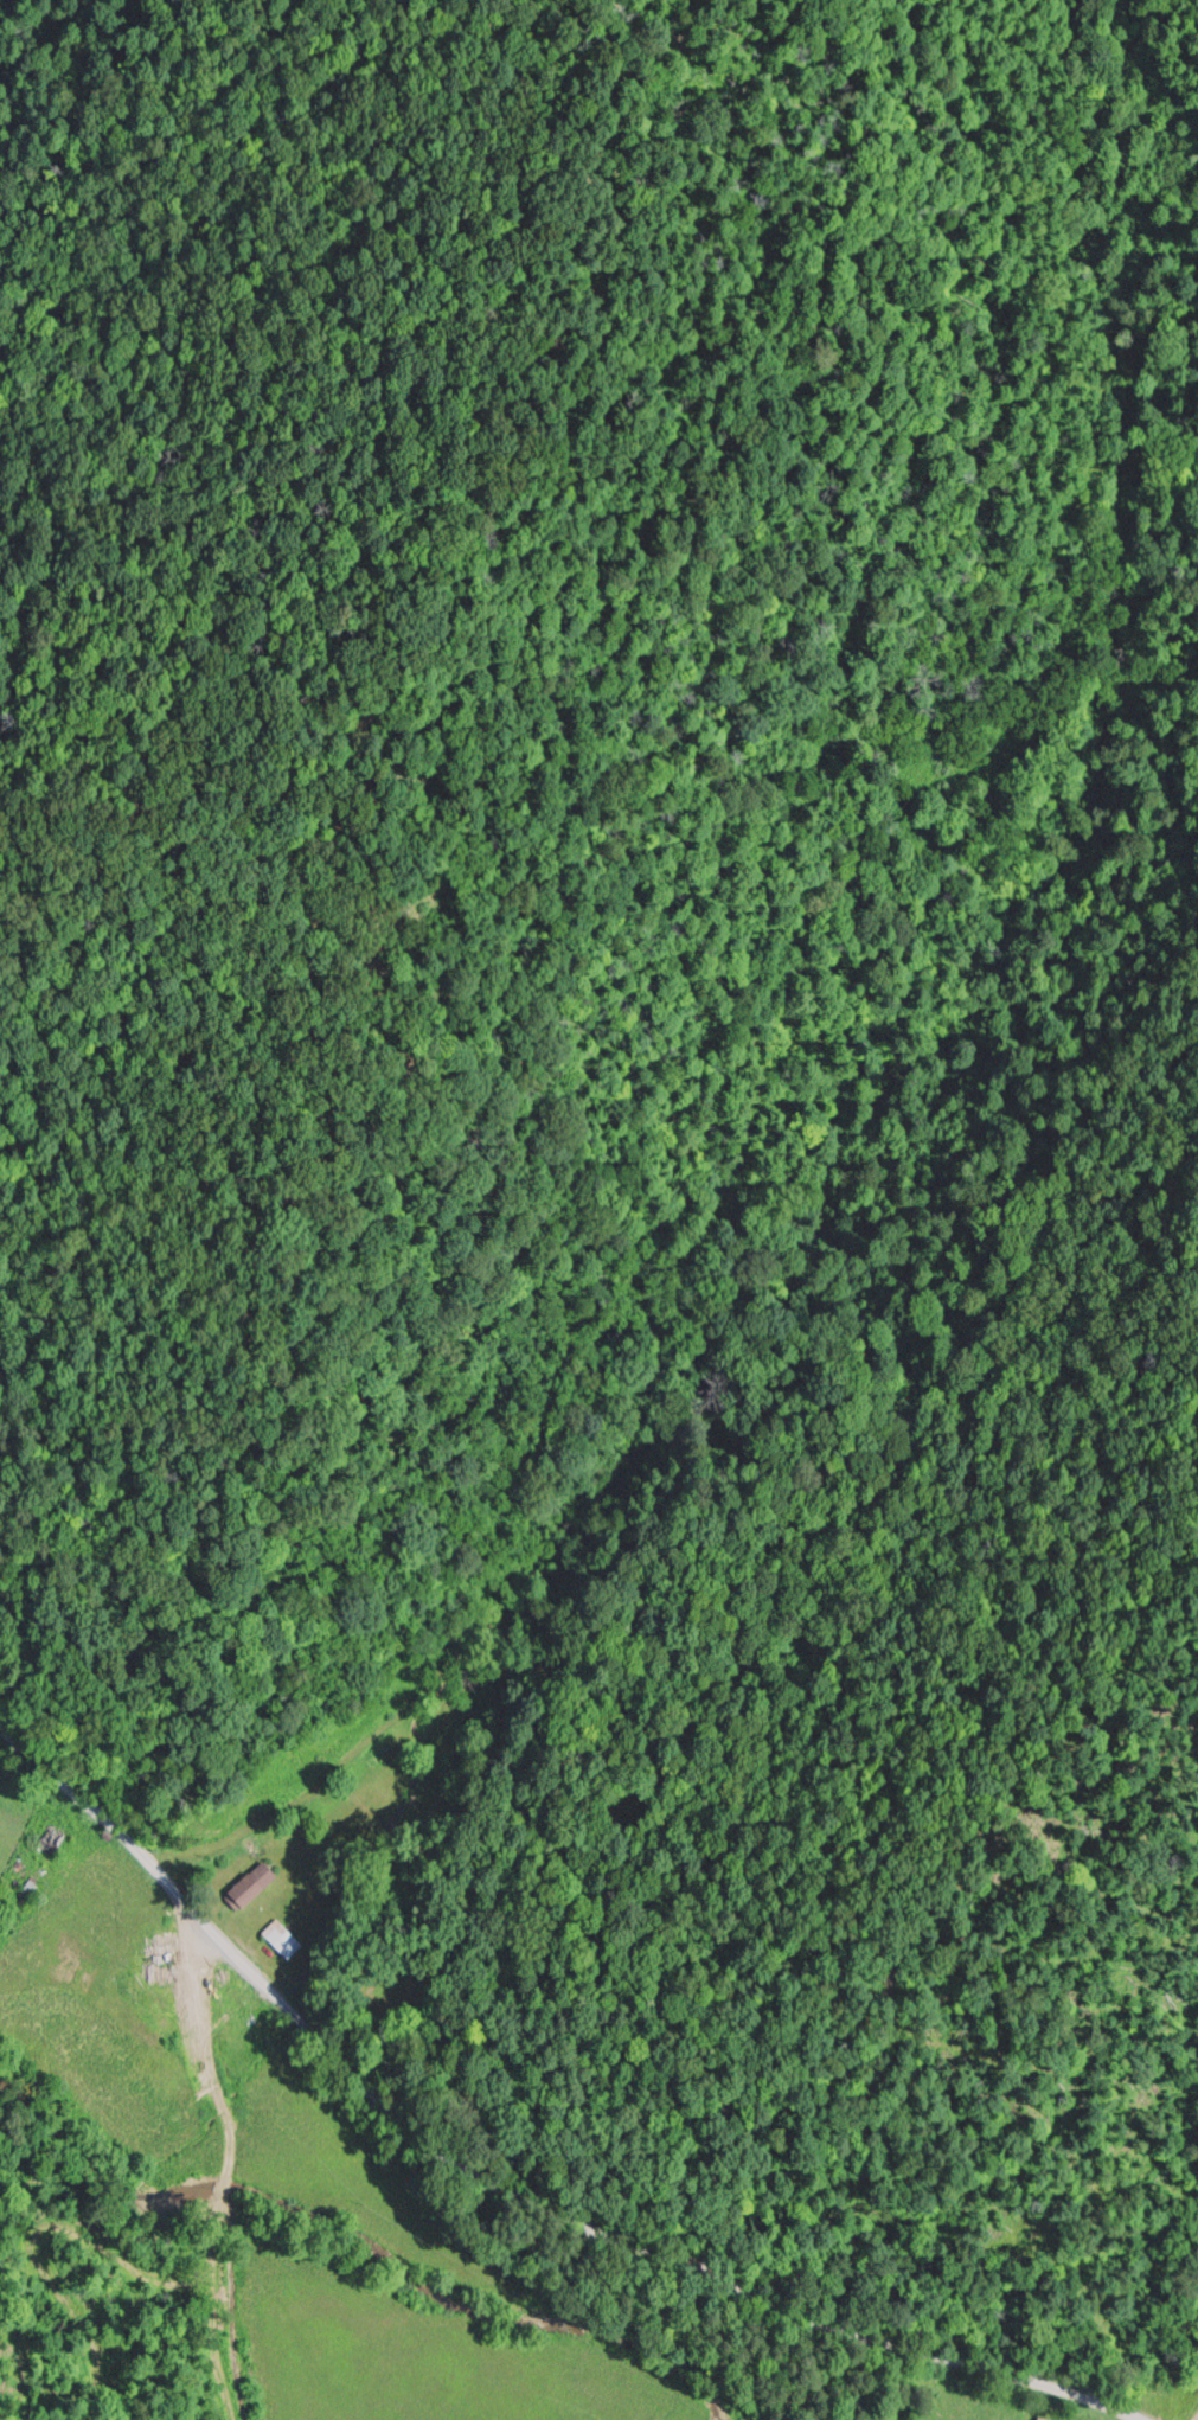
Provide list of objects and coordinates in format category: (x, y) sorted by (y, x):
road: (327, 1780)
road: (77, 1786)
building: (256, 1884)
building: (287, 1936)
road: (600, 2232)
building: (1050, 2418)

